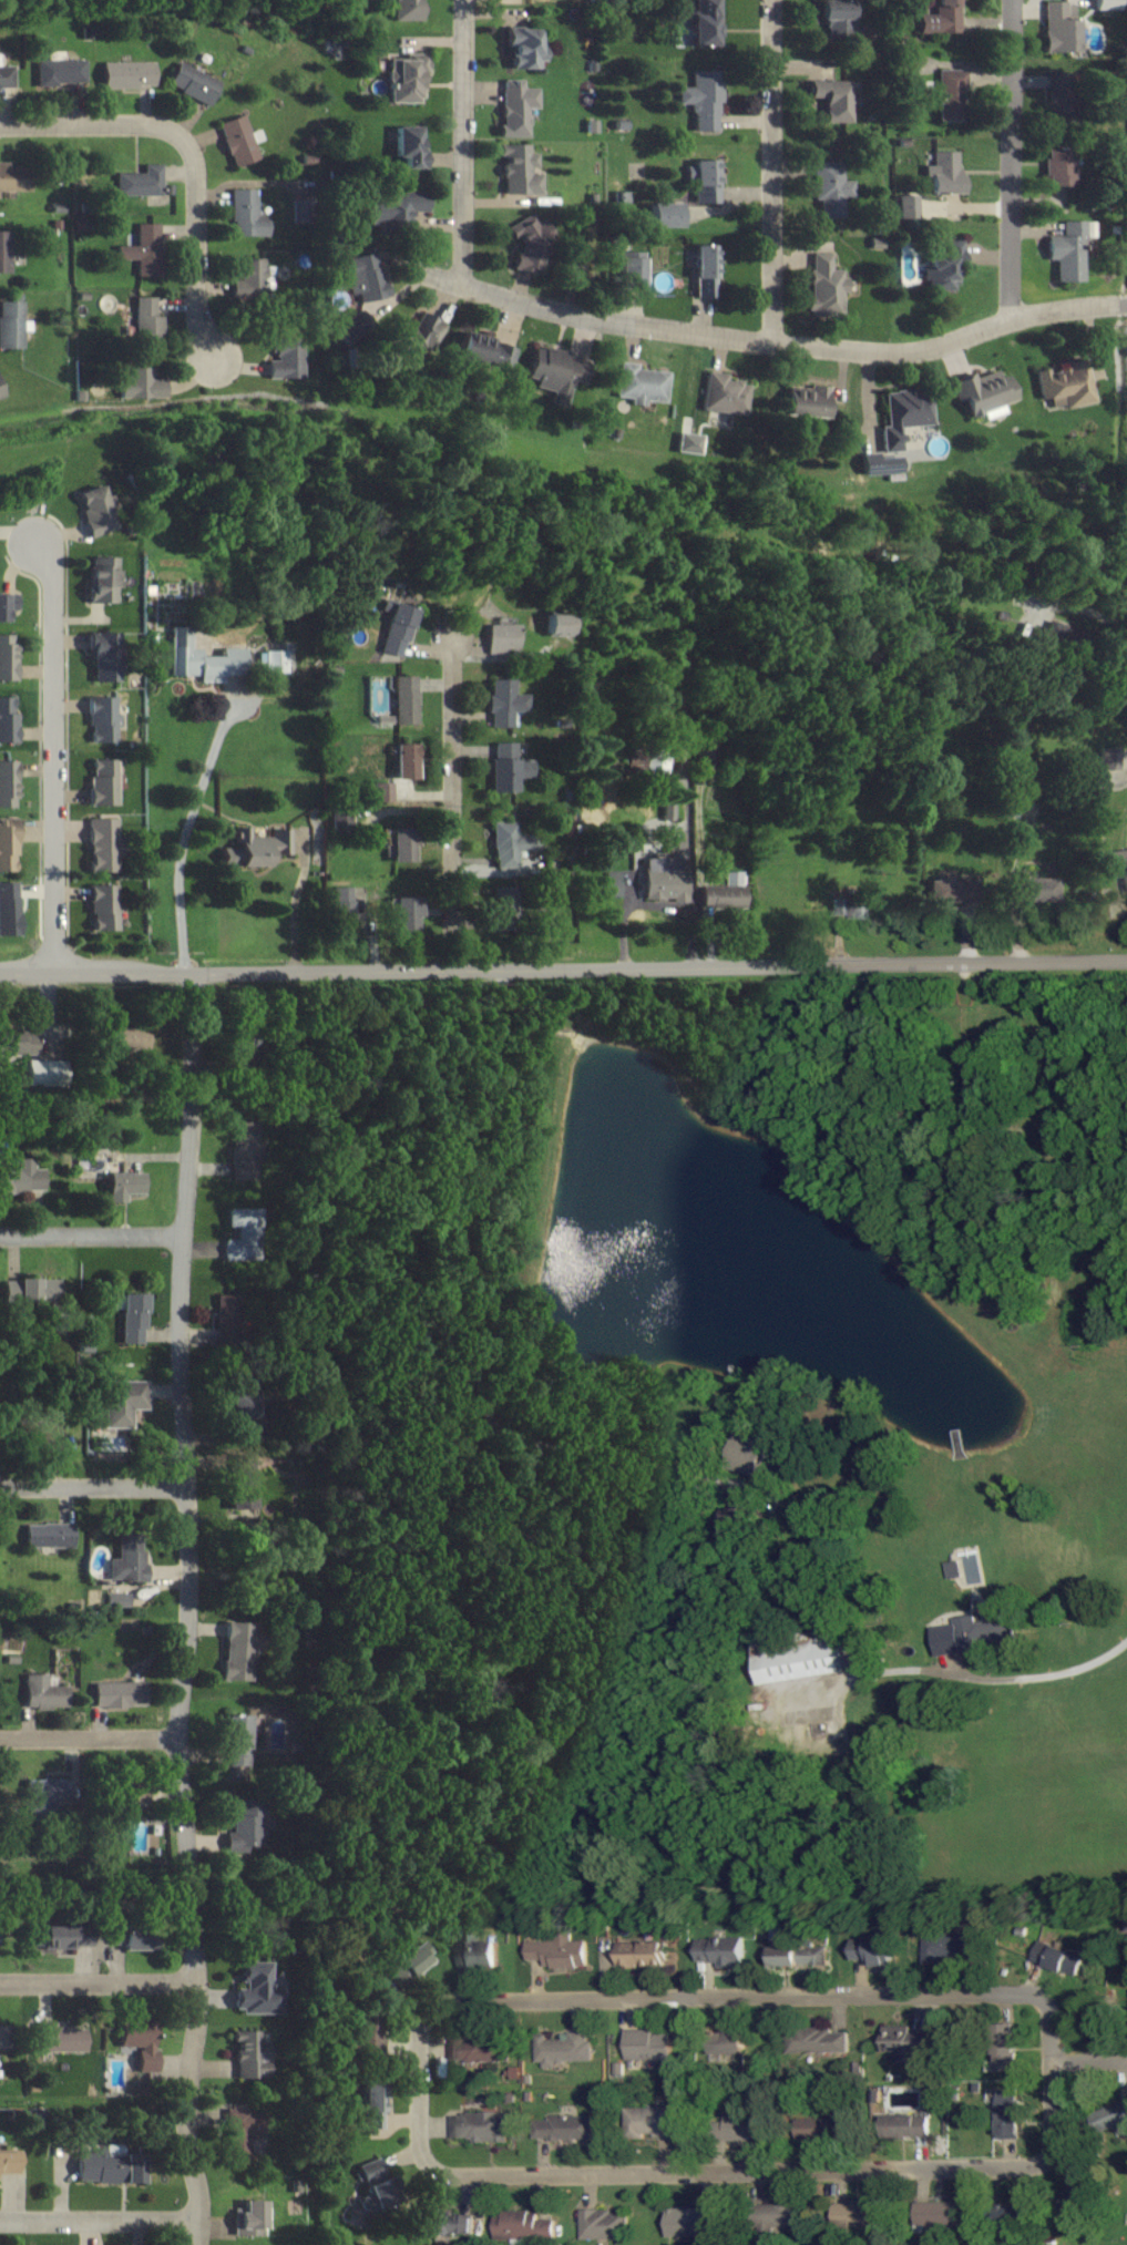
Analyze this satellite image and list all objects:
building: (1107, 4)
building: (406, 10)
building: (942, 18)
building: (838, 19)
building: (706, 23)
building: (1061, 27)
building: (524, 47)
building: (62, 71)
building: (129, 73)
building: (7, 75)
building: (406, 78)
building: (193, 81)
building: (1061, 89)
building: (952, 94)
building: (834, 98)
building: (704, 99)
building: (518, 106)
road: (94, 123)
building: (238, 139)
road: (464, 142)
building: (408, 145)
road: (1010, 158)
building: (1058, 165)
building: (521, 170)
road: (773, 171)
building: (944, 172)
building: (14, 177)
building: (706, 180)
building: (141, 181)
building: (832, 186)
building: (910, 205)
building: (396, 209)
building: (247, 213)
building: (663, 214)
building: (532, 242)
building: (1070, 248)
building: (145, 249)
road: (199, 249)
building: (6, 252)
building: (706, 269)
building: (631, 270)
building: (368, 276)
building: (252, 277)
building: (826, 284)
building: (147, 322)
building: (11, 324)
building: (414, 336)
road: (773, 341)
building: (484, 350)
building: (287, 359)
building: (555, 371)
building: (1067, 382)
building: (142, 383)
building: (643, 383)
building: (1, 390)
building: (983, 392)
building: (725, 393)
building: (808, 401)
building: (905, 414)
building: (689, 442)
building: (881, 462)
building: (95, 512)
building: (102, 580)
building: (8, 605)
road: (1083, 608)
building: (554, 624)
building: (399, 629)
building: (500, 636)
building: (103, 656)
building: (9, 657)
building: (205, 658)
building: (275, 660)
building: (406, 699)
building: (504, 701)
building: (103, 717)
building: (8, 719)
road: (53, 751)
building: (705, 757)
building: (1111, 758)
building: (406, 760)
building: (657, 761)
building: (509, 766)
building: (103, 782)
building: (8, 783)
building: (383, 791)
road: (454, 801)
building: (1007, 810)
road: (191, 827)
building: (506, 843)
building: (8, 844)
building: (104, 844)
building: (403, 844)
building: (255, 847)
road: (689, 862)
building: (1117, 863)
building: (660, 877)
building: (608, 885)
building: (1036, 889)
building: (947, 890)
building: (726, 892)
building: (342, 902)
road: (296, 904)
building: (103, 905)
building: (850, 905)
building: (8, 909)
building: (502, 909)
building: (407, 914)
road: (563, 964)
building: (131, 1037)
building: (19, 1042)
building: (44, 1073)
building: (248, 1150)
building: (22, 1177)
building: (121, 1181)
building: (247, 1234)
road: (92, 1237)
building: (39, 1289)
building: (11, 1291)
building: (132, 1316)
building: (230, 1319)
building: (244, 1395)
building: (122, 1402)
building: (39, 1433)
building: (751, 1453)
building: (244, 1484)
road: (93, 1487)
building: (50, 1535)
building: (129, 1559)
building: (954, 1569)
building: (120, 1599)
road: (191, 1607)
building: (973, 1634)
building: (240, 1650)
building: (800, 1658)
road: (959, 1674)
building: (44, 1693)
building: (116, 1694)
road: (89, 1737)
building: (238, 1741)
building: (127, 1791)
building: (49, 1793)
building: (253, 1825)
building: (59, 1939)
building: (126, 1939)
building: (949, 1948)
building: (872, 1950)
building: (560, 1951)
building: (723, 1951)
building: (643, 1954)
building: (481, 1955)
building: (799, 1956)
building: (1056, 1959)
building: (412, 1960)
road: (98, 1985)
building: (257, 1990)
road: (730, 1997)
building: (365, 2024)
building: (60, 2039)
building: (136, 2039)
building: (904, 2039)
building: (822, 2040)
building: (647, 2044)
building: (726, 2046)
building: (1005, 2046)
building: (563, 2048)
building: (480, 2049)
building: (248, 2053)
road: (1089, 2060)
building: (515, 2072)
building: (371, 2103)
building: (1007, 2113)
building: (1113, 2115)
building: (650, 2121)
building: (905, 2124)
building: (481, 2125)
building: (737, 2126)
building: (565, 2128)
building: (818, 2128)
building: (242, 2130)
building: (8, 2161)
building: (109, 2166)
road: (745, 2170)
building: (373, 2185)
building: (854, 2213)
building: (936, 2213)
building: (776, 2215)
building: (250, 2217)
building: (1006, 2217)
road: (100, 2218)
building: (689, 2221)
building: (442, 2222)
building: (601, 2223)
building: (526, 2224)

